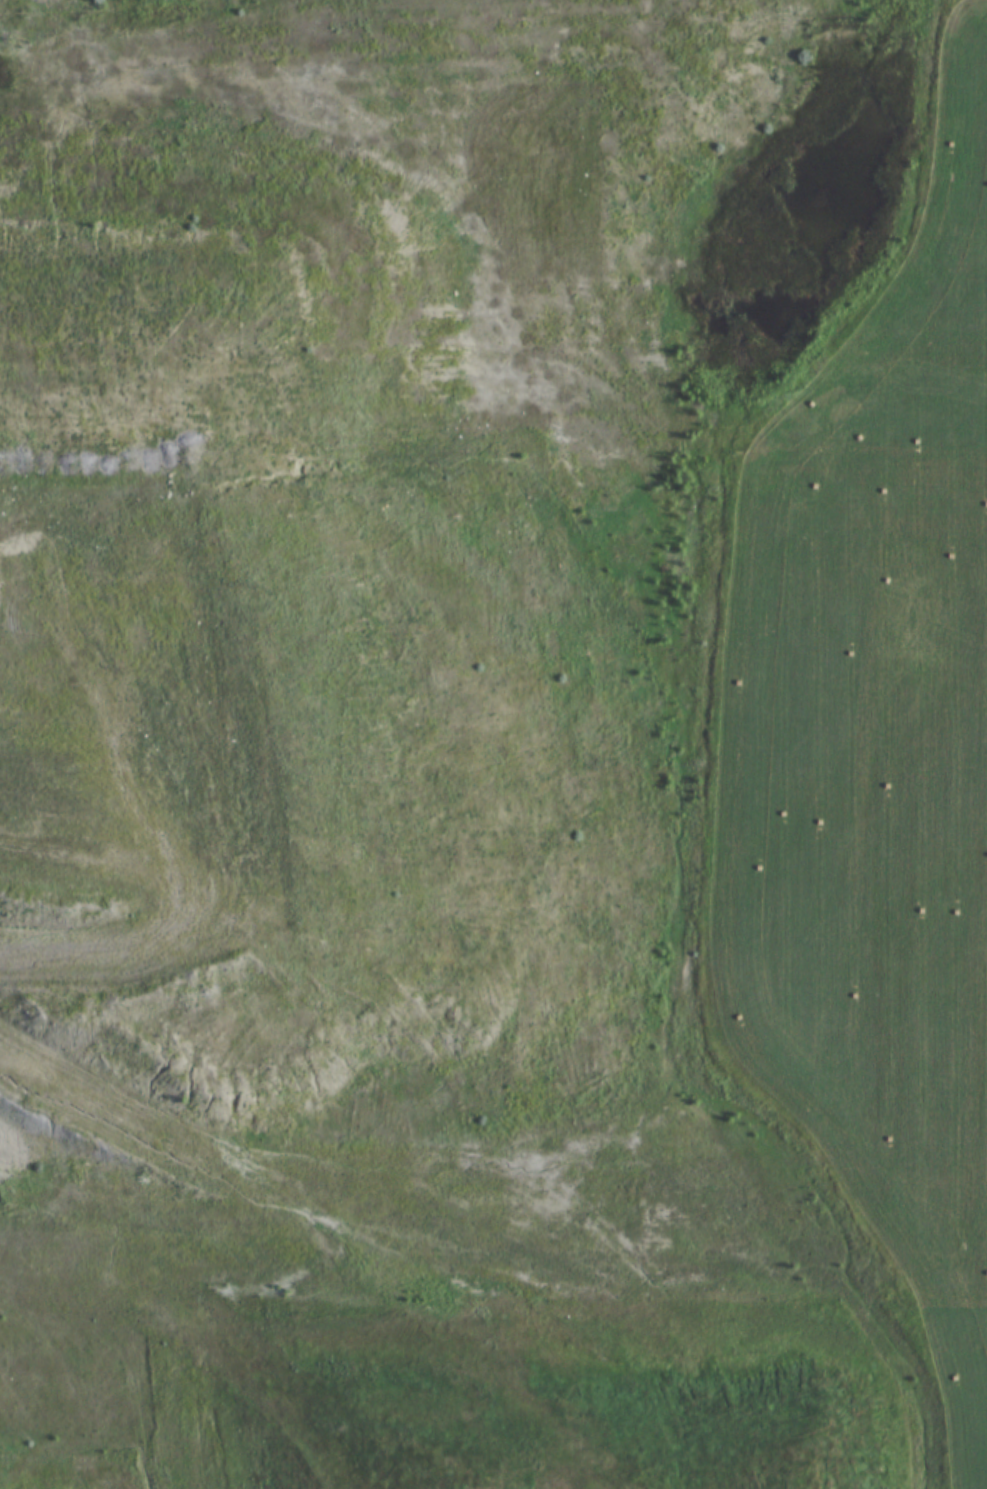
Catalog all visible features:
road: (535, 44)
quarry: (493, 744)

